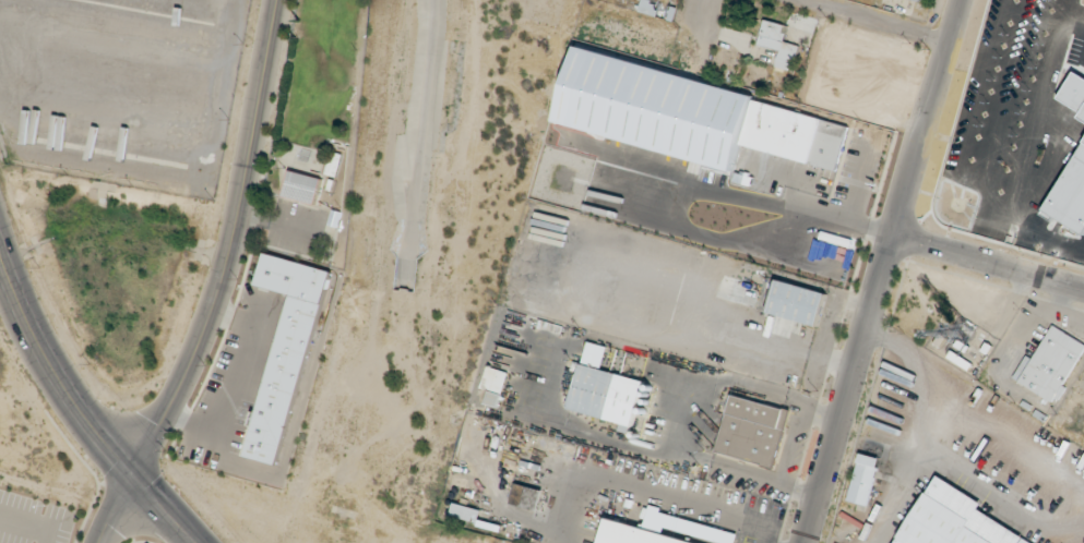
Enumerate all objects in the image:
building: (916, 1)
building: (657, 11)
road: (880, 19)
building: (778, 44)
building: (837, 93)
building: (1083, 112)
building: (1082, 118)
building: (795, 135)
building: (302, 186)
road: (825, 210)
road: (989, 261)
road: (882, 270)
road: (221, 281)
building: (798, 302)
building: (286, 351)
building: (1051, 363)
building: (495, 385)
building: (605, 389)
road: (81, 410)
building: (753, 431)
building: (863, 479)
road: (686, 496)
building: (527, 497)
building: (466, 512)
building: (952, 519)
building: (665, 531)

